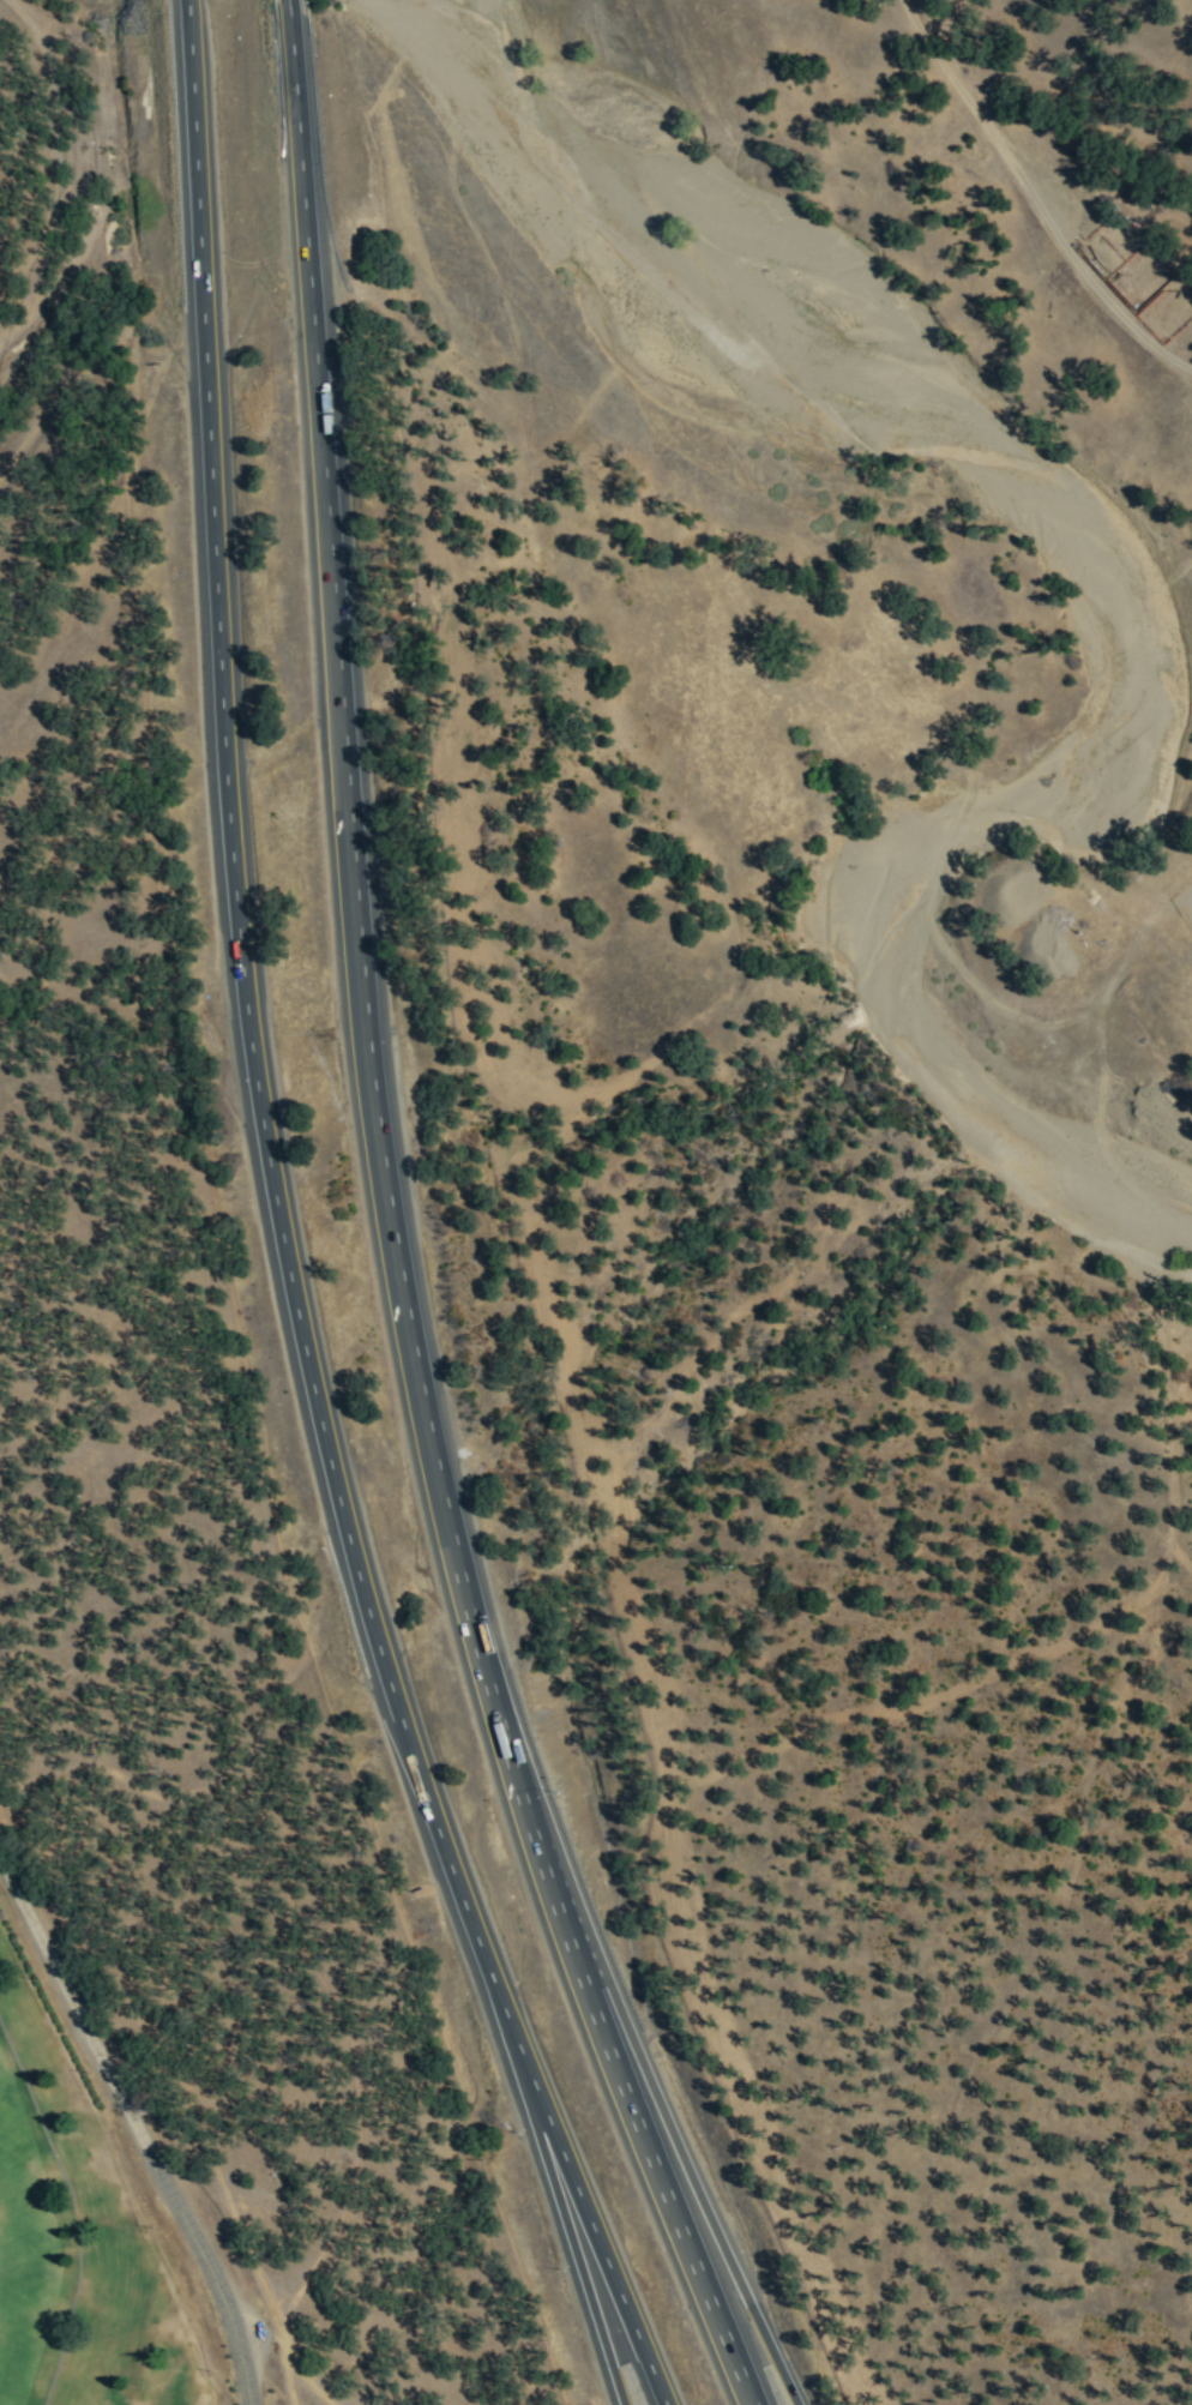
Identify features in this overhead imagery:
river: (385, 4)
road: (290, 11)
river: (776, 273)
river: (886, 913)
road: (277, 1233)
road: (393, 1241)
road: (134, 2133)
road: (681, 2146)
park: (88, 2203)
road: (572, 2235)

